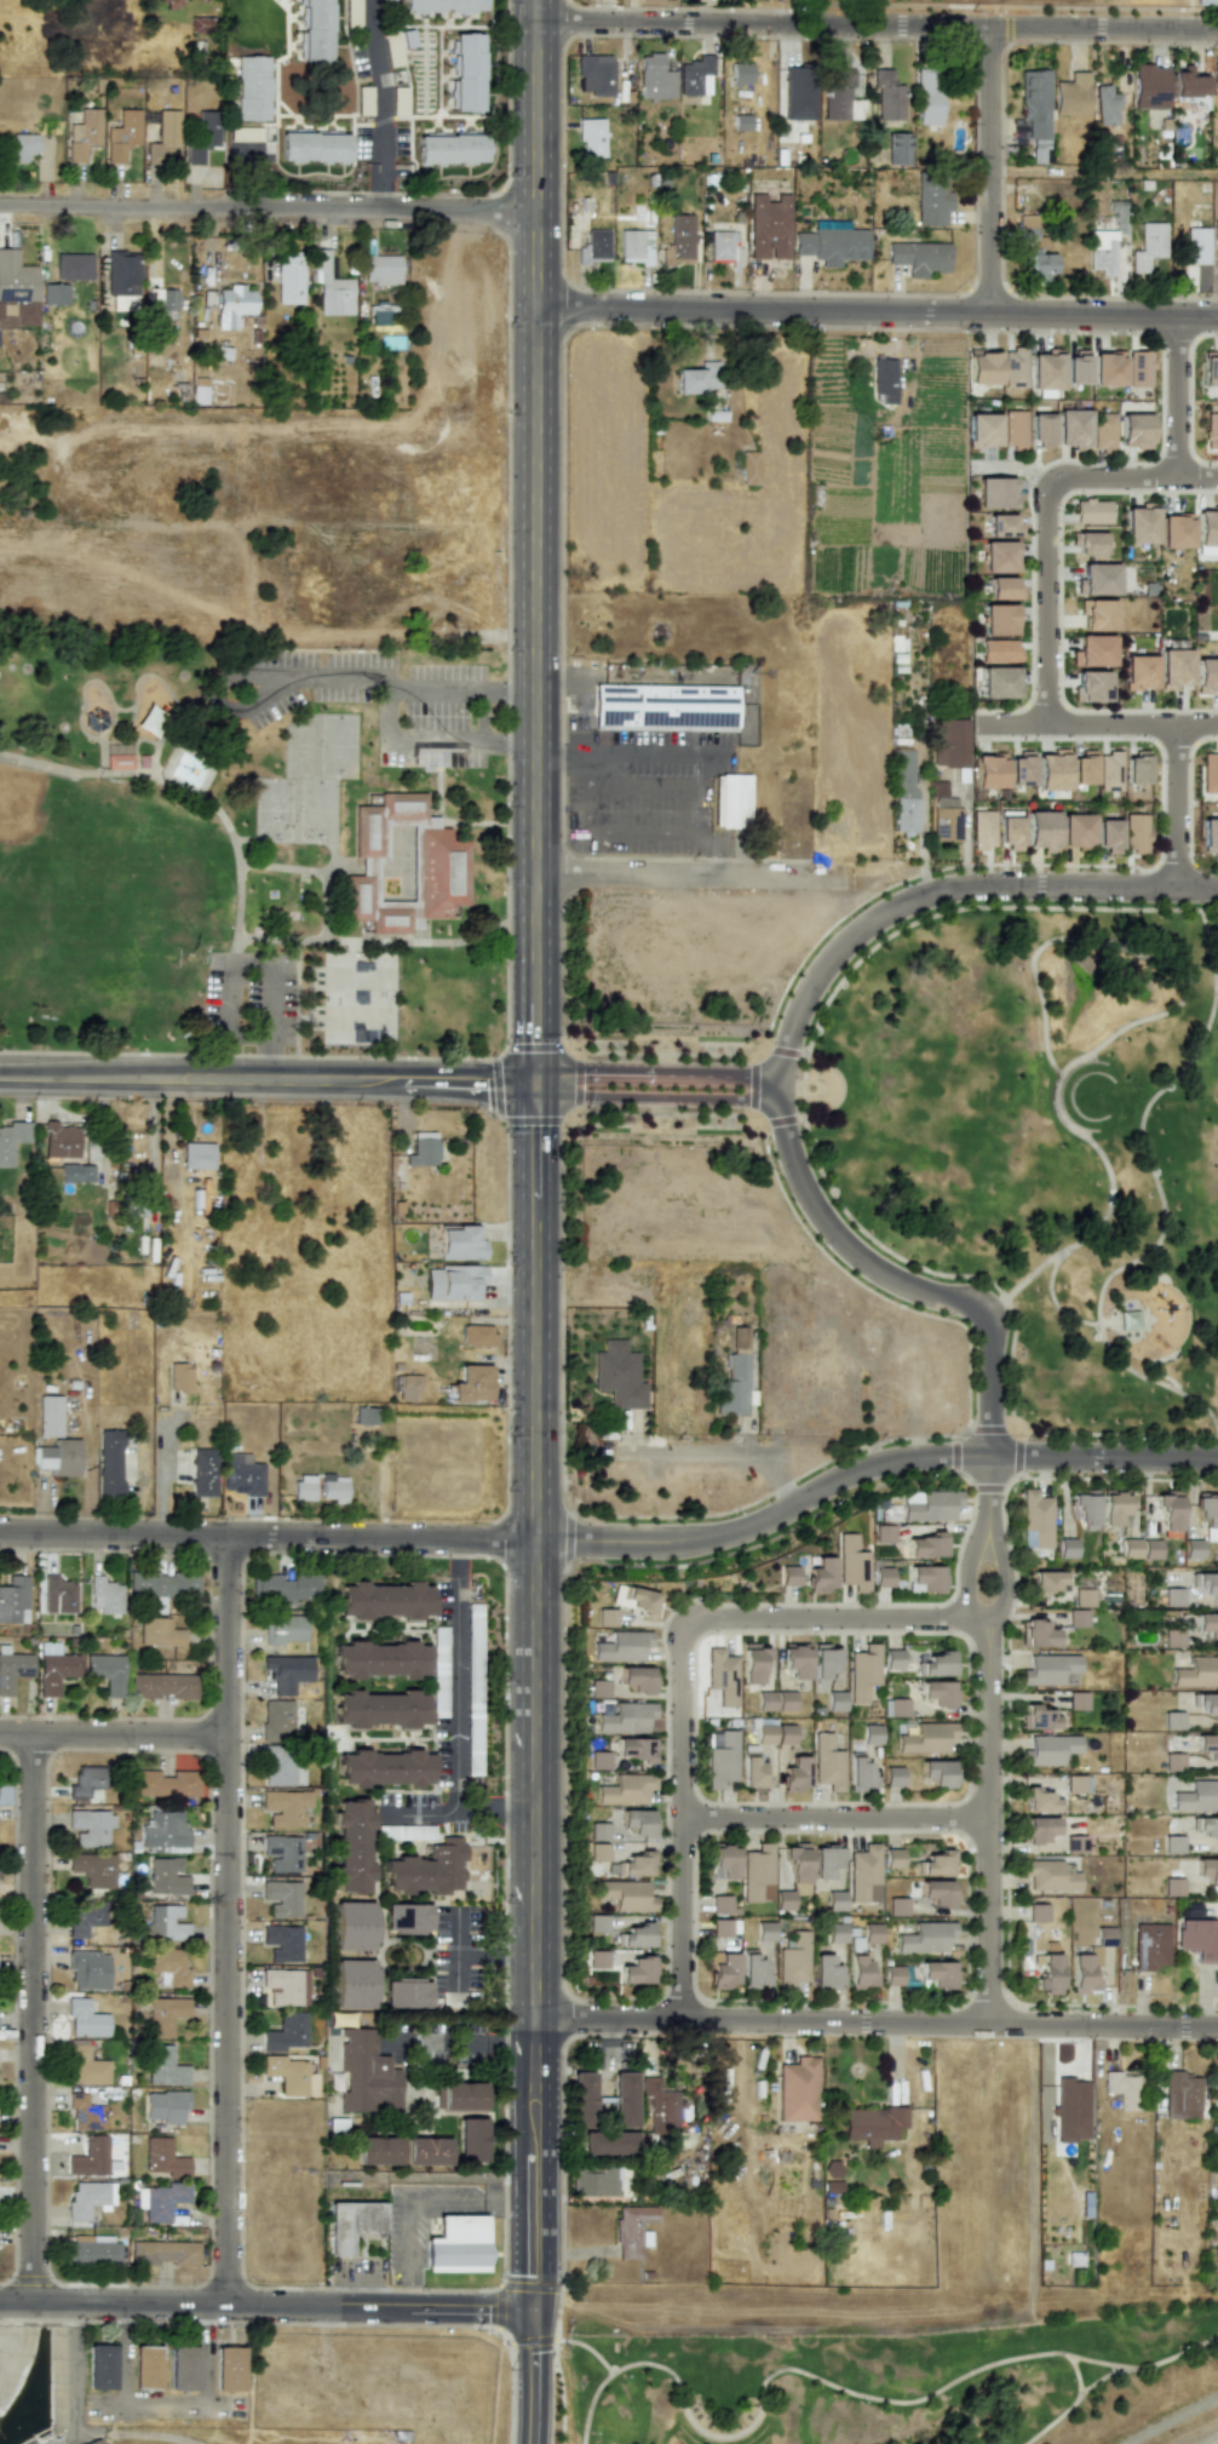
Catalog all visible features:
building: (168, 2)
building: (1206, 2)
building: (442, 5)
road: (874, 27)
building: (316, 31)
building: (466, 71)
building: (740, 73)
building: (1214, 73)
building: (593, 74)
building: (695, 76)
building: (655, 79)
building: (1149, 86)
building: (1189, 87)
building: (253, 88)
building: (798, 93)
building: (1072, 94)
building: (840, 96)
building: (887, 96)
building: (927, 97)
road: (377, 104)
building: (1105, 105)
building: (1035, 111)
building: (82, 133)
building: (122, 134)
building: (245, 134)
building: (202, 136)
building: (163, 137)
building: (590, 137)
building: (23, 147)
building: (314, 147)
building: (897, 148)
building: (450, 149)
road: (990, 172)
road: (1104, 174)
building: (931, 200)
road: (265, 207)
building: (1119, 216)
building: (768, 226)
building: (1025, 228)
building: (1216, 230)
building: (680, 236)
building: (802, 242)
building: (838, 242)
building: (1196, 245)
building: (636, 246)
building: (1148, 246)
building: (593, 247)
building: (724, 248)
building: (1102, 251)
building: (919, 257)
building: (1042, 265)
building: (73, 266)
building: (381, 269)
building: (122, 274)
building: (289, 276)
building: (329, 286)
building: (17, 291)
building: (54, 293)
building: (165, 302)
building: (232, 304)
road: (874, 312)
building: (381, 317)
building: (981, 367)
building: (1012, 367)
building: (1075, 367)
building: (1107, 368)
building: (1138, 368)
building: (1044, 369)
building: (1210, 369)
building: (697, 379)
building: (884, 380)
road: (1174, 396)
building: (1072, 428)
building: (1012, 429)
building: (1040, 429)
building: (981, 430)
building: (1102, 430)
building: (1133, 430)
building: (1211, 430)
road: (532, 438)
building: (748, 467)
road: (1196, 477)
building: (994, 493)
building: (1092, 511)
building: (1001, 524)
building: (1138, 524)
building: (1173, 530)
building: (1206, 530)
road: (1047, 539)
building: (1088, 543)
building: (998, 556)
building: (1097, 579)
building: (1001, 587)
building: (1097, 614)
building: (998, 619)
building: (998, 650)
building: (1093, 650)
building: (1173, 669)
road: (281, 671)
building: (1138, 672)
building: (1206, 675)
building: (998, 682)
building: (1091, 685)
road: (271, 689)
road: (512, 690)
building: (663, 707)
road: (385, 722)
parking lot: (431, 722)
road: (1015, 724)
road: (1132, 725)
building: (949, 742)
road: (512, 744)
road: (547, 752)
road: (644, 752)
building: (119, 762)
road: (586, 765)
building: (1081, 768)
building: (1134, 768)
building: (1018, 769)
building: (988, 770)
building: (1051, 770)
building: (1108, 770)
building: (1210, 773)
road: (707, 778)
road: (634, 780)
building: (903, 791)
building: (730, 801)
road: (682, 805)
road: (1176, 807)
building: (943, 813)
road: (608, 830)
building: (982, 830)
building: (1040, 830)
building: (1075, 830)
building: (1009, 832)
building: (1133, 832)
building: (1107, 834)
building: (1208, 834)
building: (419, 850)
park: (259, 861)
road: (679, 879)
road: (1101, 885)
building: (357, 890)
building: (390, 903)
road: (532, 981)
road: (228, 1003)
road: (272, 1003)
parking lot: (248, 1005)
road: (224, 1059)
road: (271, 1060)
road: (265, 1079)
road: (657, 1086)
building: (11, 1140)
building: (59, 1140)
building: (421, 1149)
building: (197, 1155)
building: (74, 1172)
building: (459, 1243)
road: (530, 1264)
building: (453, 1283)
building: (1162, 1304)
building: (1128, 1320)
building: (477, 1336)
road: (993, 1339)
building: (619, 1375)
building: (179, 1377)
building: (471, 1383)
building: (731, 1387)
building: (408, 1388)
building: (50, 1416)
road: (720, 1448)
building: (59, 1457)
building: (109, 1463)
building: (203, 1473)
building: (241, 1475)
road: (161, 1484)
building: (303, 1487)
building: (333, 1487)
building: (927, 1505)
building: (1114, 1508)
building: (1085, 1510)
building: (1207, 1515)
building: (1035, 1520)
building: (883, 1533)
road: (617, 1542)
building: (926, 1545)
building: (1067, 1548)
building: (1130, 1548)
building: (1150, 1549)
road: (455, 1557)
building: (851, 1564)
building: (788, 1576)
building: (820, 1576)
building: (881, 1577)
building: (927, 1578)
building: (1047, 1582)
building: (162, 1584)
building: (1207, 1584)
building: (287, 1588)
building: (104, 1595)
building: (58, 1596)
building: (1173, 1596)
building: (1084, 1597)
building: (13, 1600)
building: (639, 1600)
building: (384, 1601)
building: (605, 1617)
building: (1076, 1619)
building: (1207, 1625)
building: (285, 1629)
building: (159, 1633)
building: (1038, 1634)
building: (1172, 1637)
building: (620, 1647)
building: (891, 1659)
building: (380, 1660)
building: (794, 1660)
building: (822, 1662)
building: (751, 1663)
building: (936, 1663)
road: (682, 1668)
building: (12, 1669)
building: (287, 1670)
building: (1051, 1670)
building: (54, 1671)
building: (105, 1671)
building: (862, 1673)
building: (1196, 1674)
building: (720, 1676)
building: (636, 1679)
building: (160, 1686)
building: (597, 1688)
building: (936, 1692)
road: (455, 1694)
building: (774, 1700)
building: (834, 1700)
building: (1076, 1700)
building: (1207, 1704)
building: (897, 1708)
building: (381, 1710)
building: (622, 1717)
building: (1040, 1717)
building: (276, 1719)
building: (1172, 1720)
road: (114, 1734)
building: (764, 1734)
building: (783, 1734)
building: (925, 1738)
building: (1207, 1746)
building: (636, 1749)
building: (1048, 1749)
building: (598, 1760)
building: (720, 1761)
building: (827, 1762)
building: (1172, 1762)
building: (385, 1768)
building: (751, 1768)
building: (858, 1771)
building: (937, 1772)
building: (283, 1773)
building: (793, 1773)
building: (894, 1777)
building: (163, 1784)
building: (86, 1785)
building: (625, 1790)
building: (1196, 1796)
building: (1040, 1800)
building: (285, 1807)
road: (420, 1813)
road: (493, 1813)
road: (835, 1817)
building: (637, 1821)
building: (91, 1826)
building: (1206, 1826)
building: (1039, 1829)
building: (162, 1831)
building: (598, 1831)
building: (1172, 1845)
building: (352, 1846)
building: (597, 1852)
building: (282, 1853)
building: (894, 1858)
building: (724, 1859)
building: (935, 1863)
building: (634, 1865)
building: (825, 1868)
building: (93, 1869)
building: (429, 1869)
building: (1207, 1870)
building: (755, 1871)
building: (863, 1874)
building: (1050, 1874)
building: (166, 1876)
road: (532, 1876)
building: (793, 1876)
building: (1172, 1887)
building: (938, 1892)
building: (622, 1894)
building: (282, 1898)
building: (835, 1900)
building: (720, 1904)
building: (898, 1906)
building: (1038, 1912)
road: (228, 1918)
building: (407, 1918)
building: (86, 1920)
building: (165, 1922)
building: (354, 1926)
building: (720, 1928)
building: (764, 1930)
building: (834, 1932)
building: (871, 1933)
building: (636, 1935)
building: (1104, 1937)
building: (926, 1938)
building: (1199, 1939)
building: (282, 1943)
building: (1151, 1946)
road: (471, 1957)
building: (597, 1958)
building: (792, 1961)
building: (168, 1967)
building: (752, 1969)
building: (87, 1970)
building: (637, 1970)
building: (723, 1970)
building: (858, 1970)
building: (825, 1973)
building: (938, 1973)
building: (1047, 1973)
building: (898, 1974)
building: (1082, 1974)
road: (455, 1977)
building: (352, 1984)
building: (283, 1987)
building: (406, 1993)
building: (163, 2015)
road: (33, 2016)
building: (85, 2020)
road: (874, 2021)
building: (285, 2032)
road: (460, 2042)
building: (86, 2067)
building: (163, 2067)
building: (286, 2073)
building: (366, 2073)
building: (797, 2089)
building: (1122, 2089)
building: (461, 2095)
building: (1182, 2095)
building: (1216, 2095)
building: (581, 2096)
building: (622, 2099)
building: (165, 2106)
building: (1072, 2110)
building: (665, 2111)
building: (85, 2112)
building: (873, 2124)
building: (470, 2140)
building: (607, 2144)
building: (377, 2150)
building: (426, 2151)
building: (90, 2157)
building: (162, 2158)
building: (593, 2182)
building: (86, 2198)
road: (506, 2199)
building: (160, 2201)
road: (407, 2203)
building: (351, 2224)
building: (456, 2244)
building: (91, 2249)
building: (163, 2253)
road: (403, 2293)
road: (264, 2302)
building: (99, 2366)
building: (146, 2366)
building: (183, 2368)
building: (228, 2368)
road: (528, 2375)
road: (1171, 2420)
building: (92, 2442)
road: (1214, 2442)

